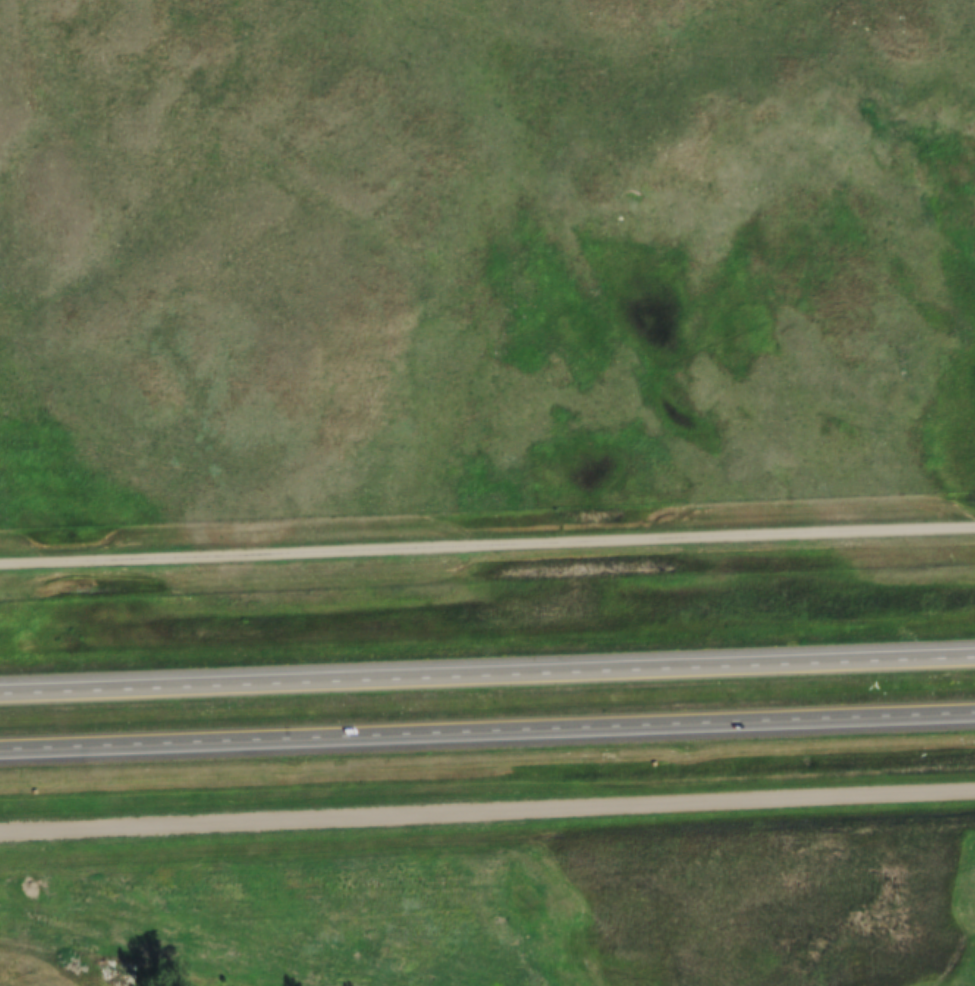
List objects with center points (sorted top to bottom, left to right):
road: (487, 548)
road: (487, 678)
road: (487, 733)
road: (487, 814)

